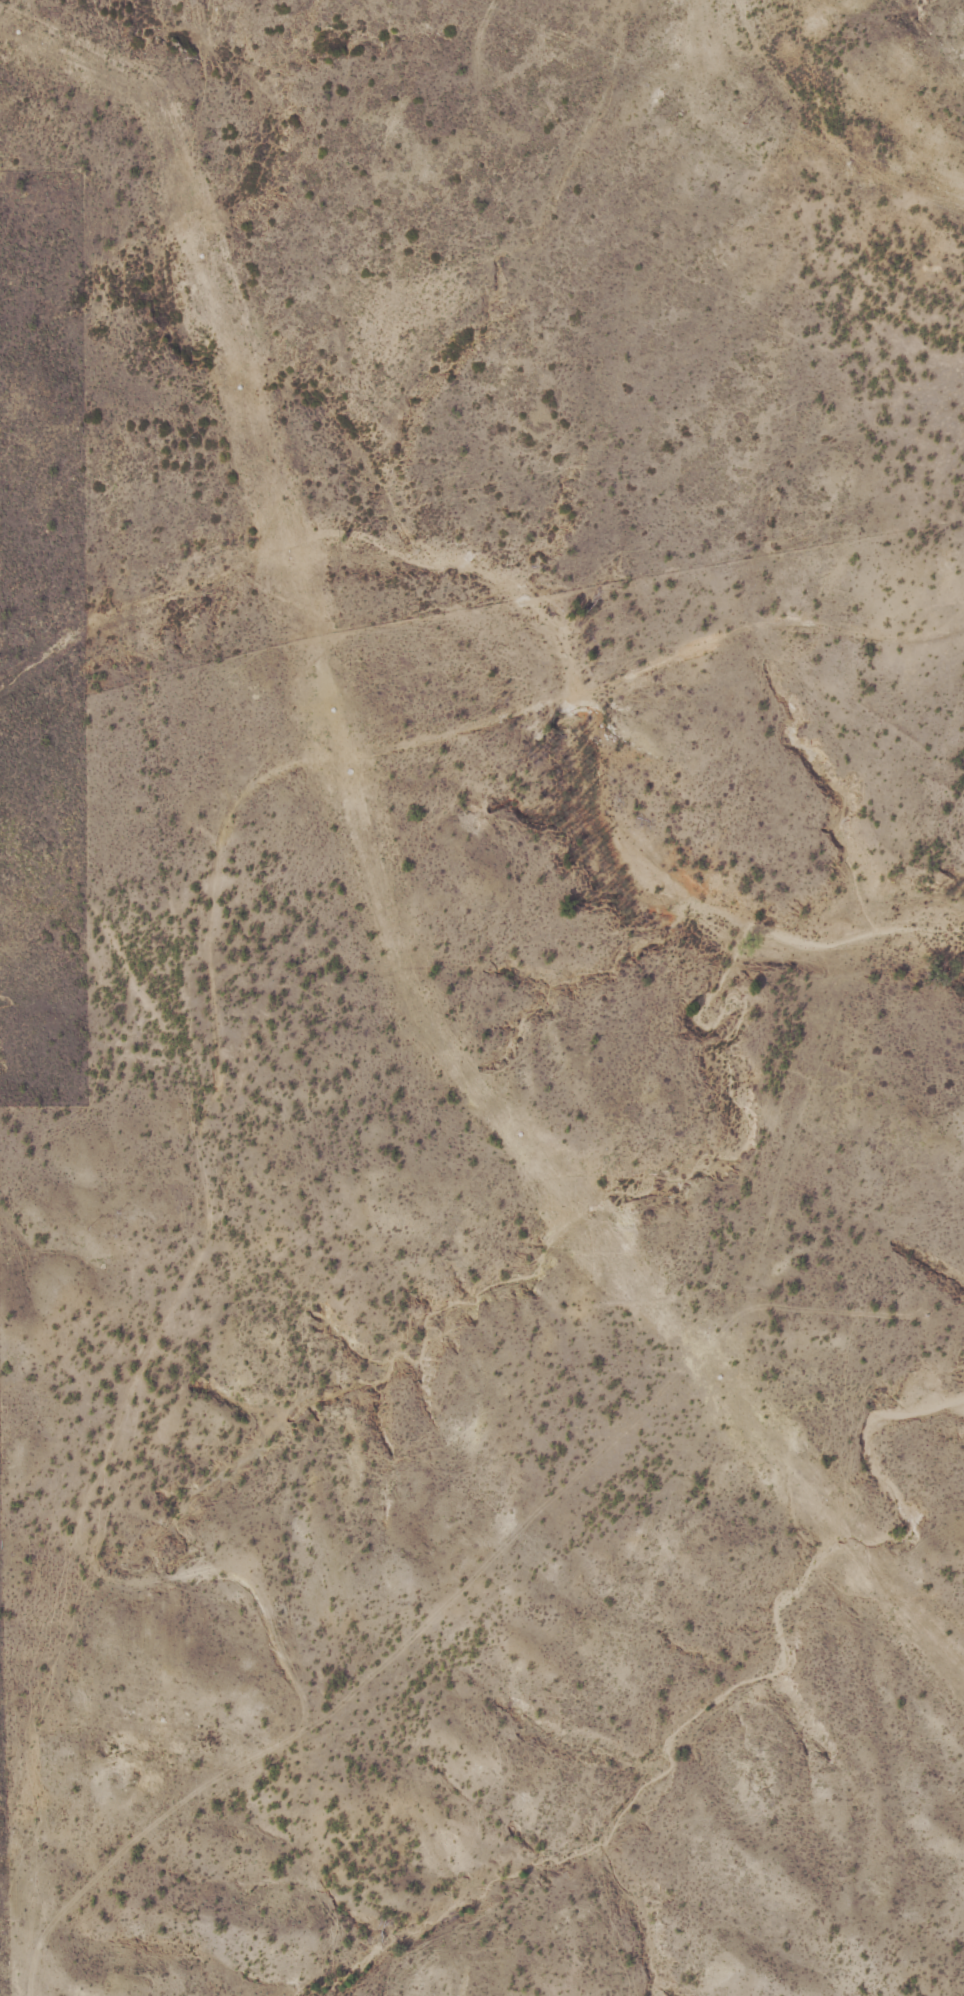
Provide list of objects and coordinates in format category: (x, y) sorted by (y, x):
power tower: (744, 118)

